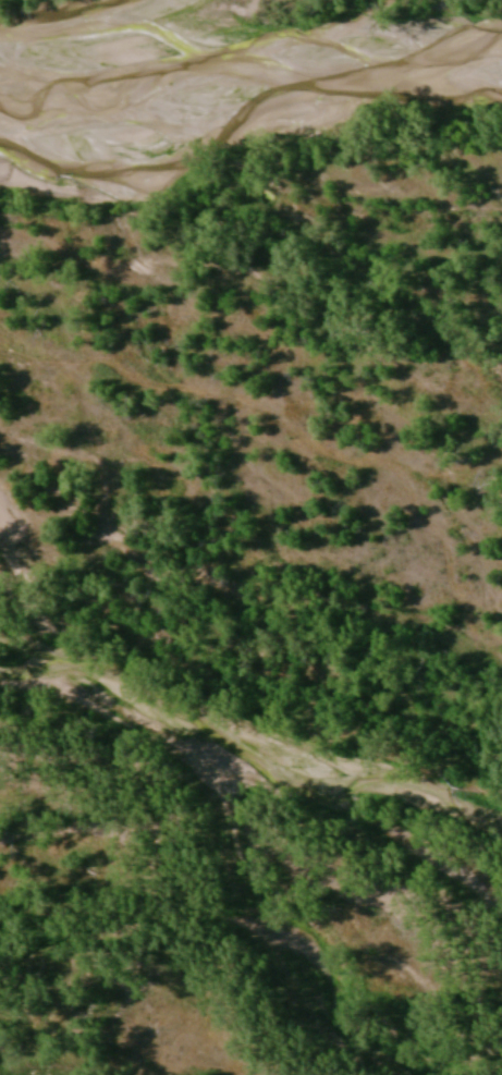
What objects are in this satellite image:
river: (250, 107)

